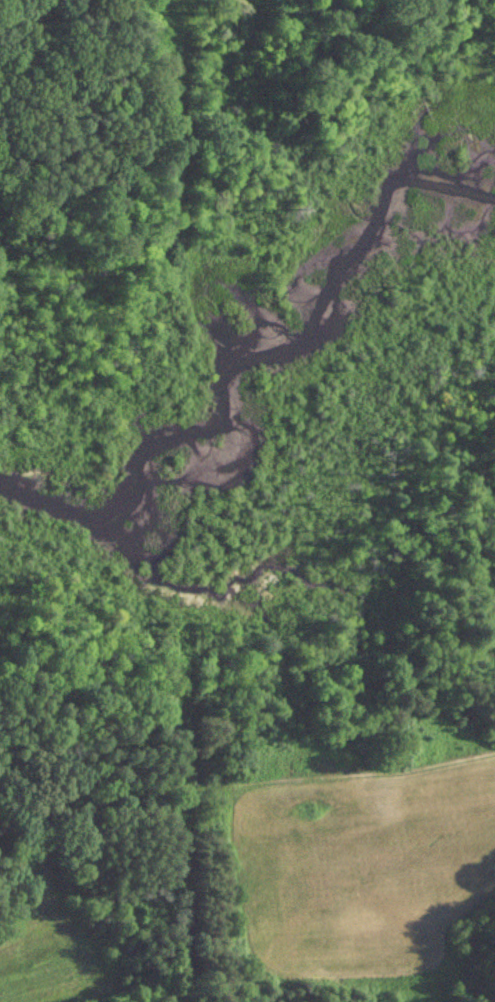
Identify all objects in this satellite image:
road: (249, 773)

